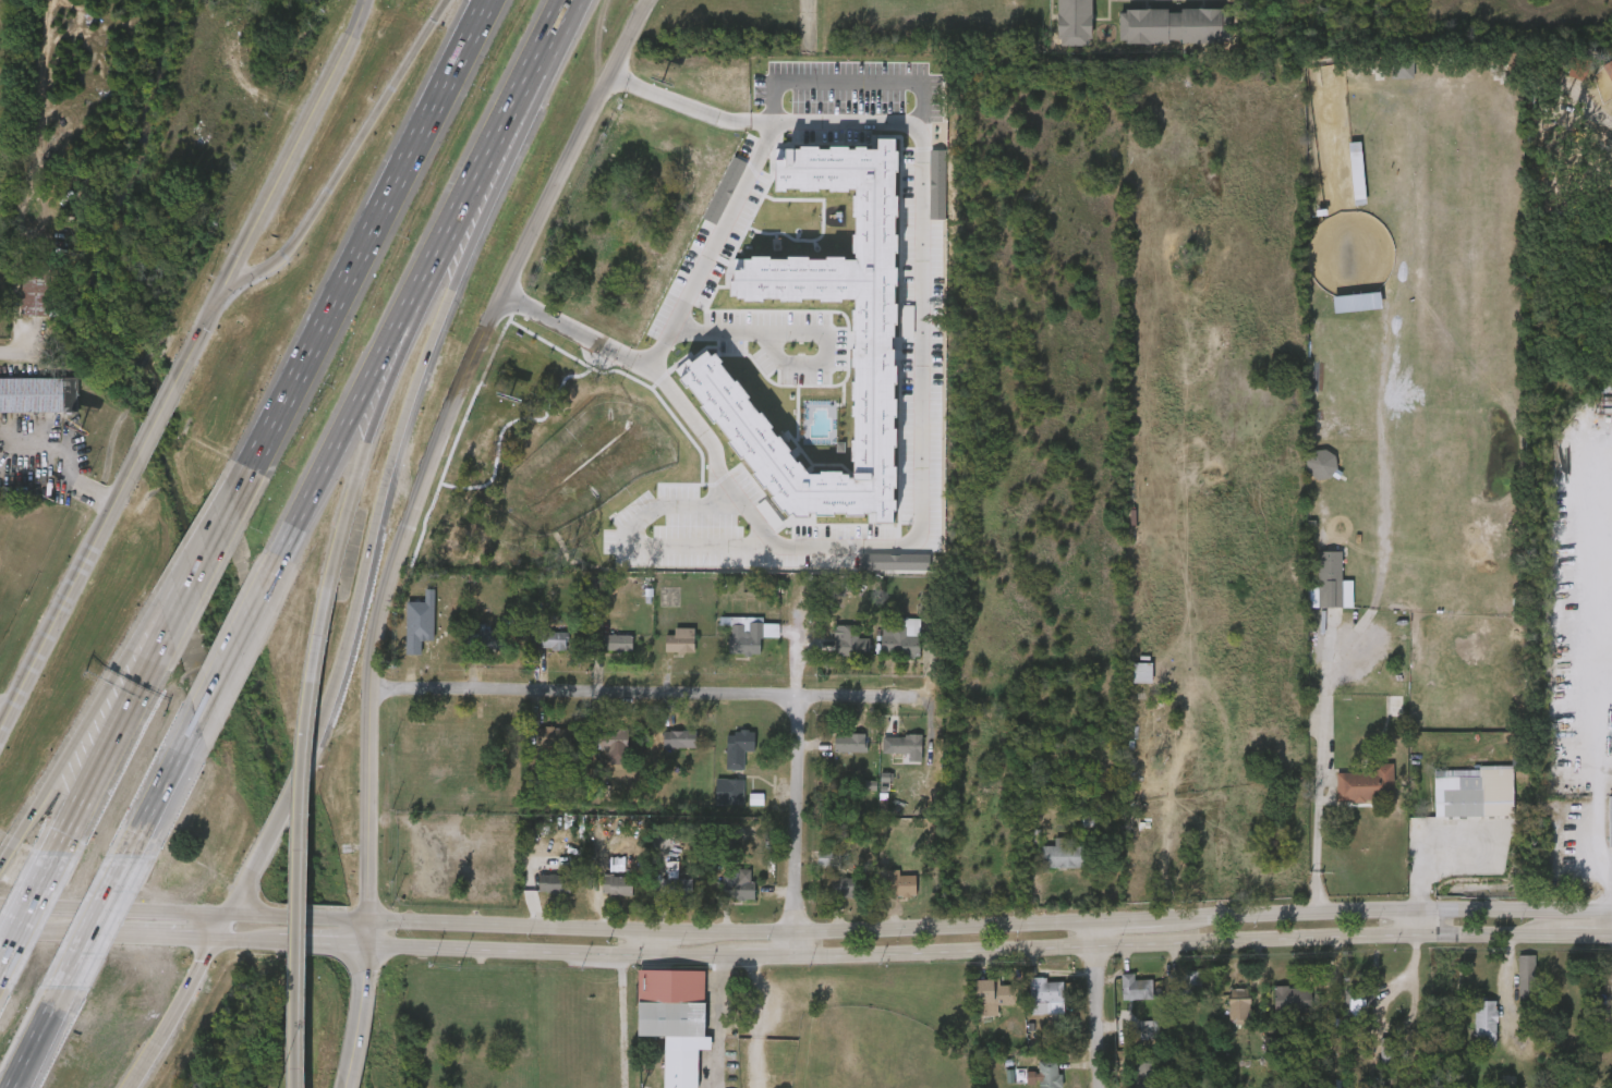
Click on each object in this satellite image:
building: (1129, 4)
building: (1183, 4)
road: (579, 5)
road: (809, 22)
building: (1075, 22)
building: (1169, 24)
building: (1385, 82)
road: (543, 85)
building: (1603, 88)
road: (847, 89)
road: (675, 107)
road: (512, 129)
building: (74, 133)
road: (291, 144)
road: (346, 158)
building: (1341, 185)
road: (365, 234)
road: (710, 254)
building: (40, 285)
building: (20, 307)
building: (1341, 314)
road: (559, 332)
road: (413, 333)
road: (197, 335)
road: (796, 342)
road: (15, 352)
road: (452, 383)
building: (32, 395)
road: (156, 418)
road: (354, 420)
road: (920, 456)
road: (389, 465)
building: (1305, 476)
road: (239, 481)
road: (349, 502)
building: (542, 505)
building: (504, 515)
road: (194, 549)
road: (632, 553)
road: (192, 564)
road: (68, 583)
building: (1313, 595)
building: (743, 636)
building: (900, 638)
building: (851, 639)
building: (554, 640)
building: (680, 640)
building: (617, 641)
building: (728, 646)
building: (463, 649)
building: (885, 649)
building: (538, 652)
building: (665, 652)
building: (833, 653)
building: (601, 655)
road: (233, 657)
road: (1597, 677)
road: (629, 694)
building: (1397, 706)
building: (1379, 718)
road: (85, 723)
building: (554, 736)
building: (679, 739)
road: (102, 741)
building: (611, 743)
building: (850, 743)
building: (902, 744)
building: (738, 746)
building: (537, 748)
building: (664, 750)
building: (833, 755)
building: (889, 756)
building: (599, 757)
building: (723, 760)
building: (1366, 785)
road: (165, 787)
building: (729, 790)
road: (1304, 790)
road: (789, 791)
building: (1472, 793)
building: (714, 803)
building: (1609, 822)
road: (271, 832)
road: (305, 836)
road: (1438, 852)
building: (1063, 856)
road: (360, 859)
road: (7, 860)
building: (1045, 868)
building: (555, 882)
building: (845, 883)
building: (898, 883)
building: (619, 884)
building: (677, 887)
building: (737, 887)
building: (659, 893)
building: (538, 895)
building: (885, 895)
road: (25, 896)
building: (723, 896)
building: (601, 897)
road: (234, 898)
building: (827, 900)
road: (133, 910)
road: (301, 918)
road: (96, 922)
road: (219, 926)
road: (1409, 926)
road: (973, 930)
road: (43, 932)
road: (148, 938)
road: (238, 941)
road: (643, 943)
road: (276, 944)
road: (314, 946)
road: (360, 948)
road: (349, 950)
road: (985, 954)
building: (1525, 979)
building: (1135, 986)
building: (1510, 990)
building: (1045, 991)
building: (1176, 991)
building: (994, 992)
building: (1113, 998)
building: (1358, 999)
building: (1293, 1000)
building: (975, 1005)
building: (1028, 1006)
road: (1091, 1006)
building: (1238, 1011)
building: (1275, 1011)
building: (1342, 1013)
building: (1610, 1013)
road: (171, 1014)
building: (1223, 1016)
building: (674, 1019)
road: (740, 1023)
building: (1484, 1024)
road: (347, 1030)
building: (1150, 1030)
building: (1468, 1032)
road: (38, 1038)
building: (1134, 1041)
building: (1386, 1052)
building: (1259, 1056)
building: (1370, 1062)
building: (1143, 1073)
building: (1047, 1074)
building: (1128, 1078)
building: (1032, 1080)

